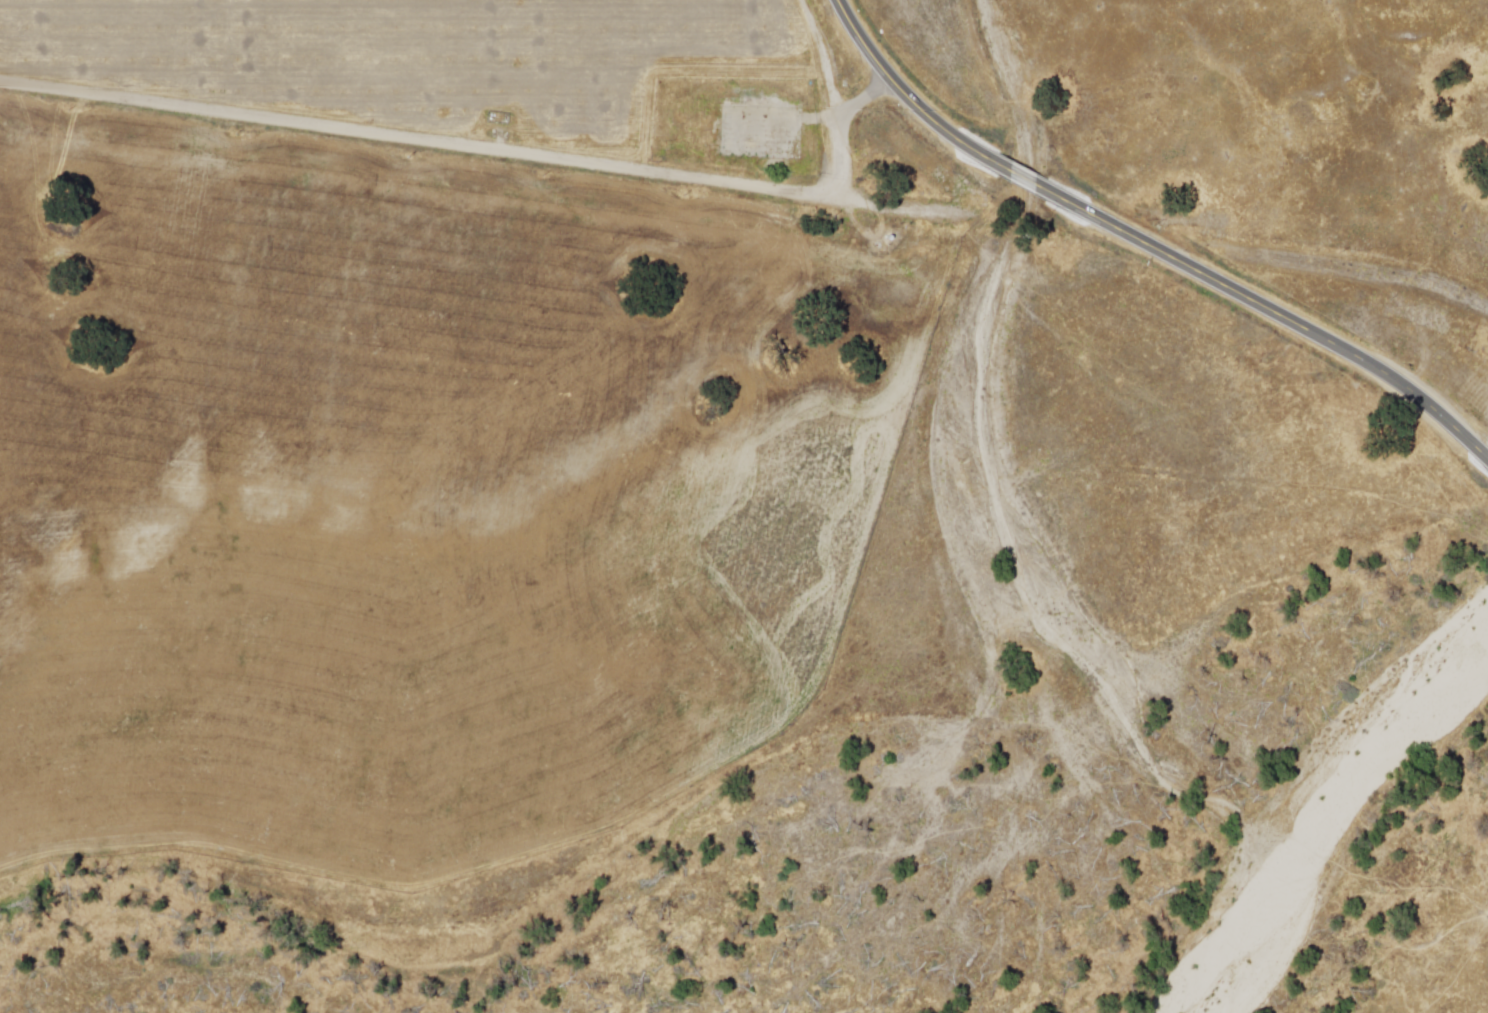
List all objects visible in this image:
road: (907, 100)
building: (743, 133)
road: (482, 147)
road: (1023, 179)
road: (1270, 314)
crop: (413, 498)
river: (1314, 800)

